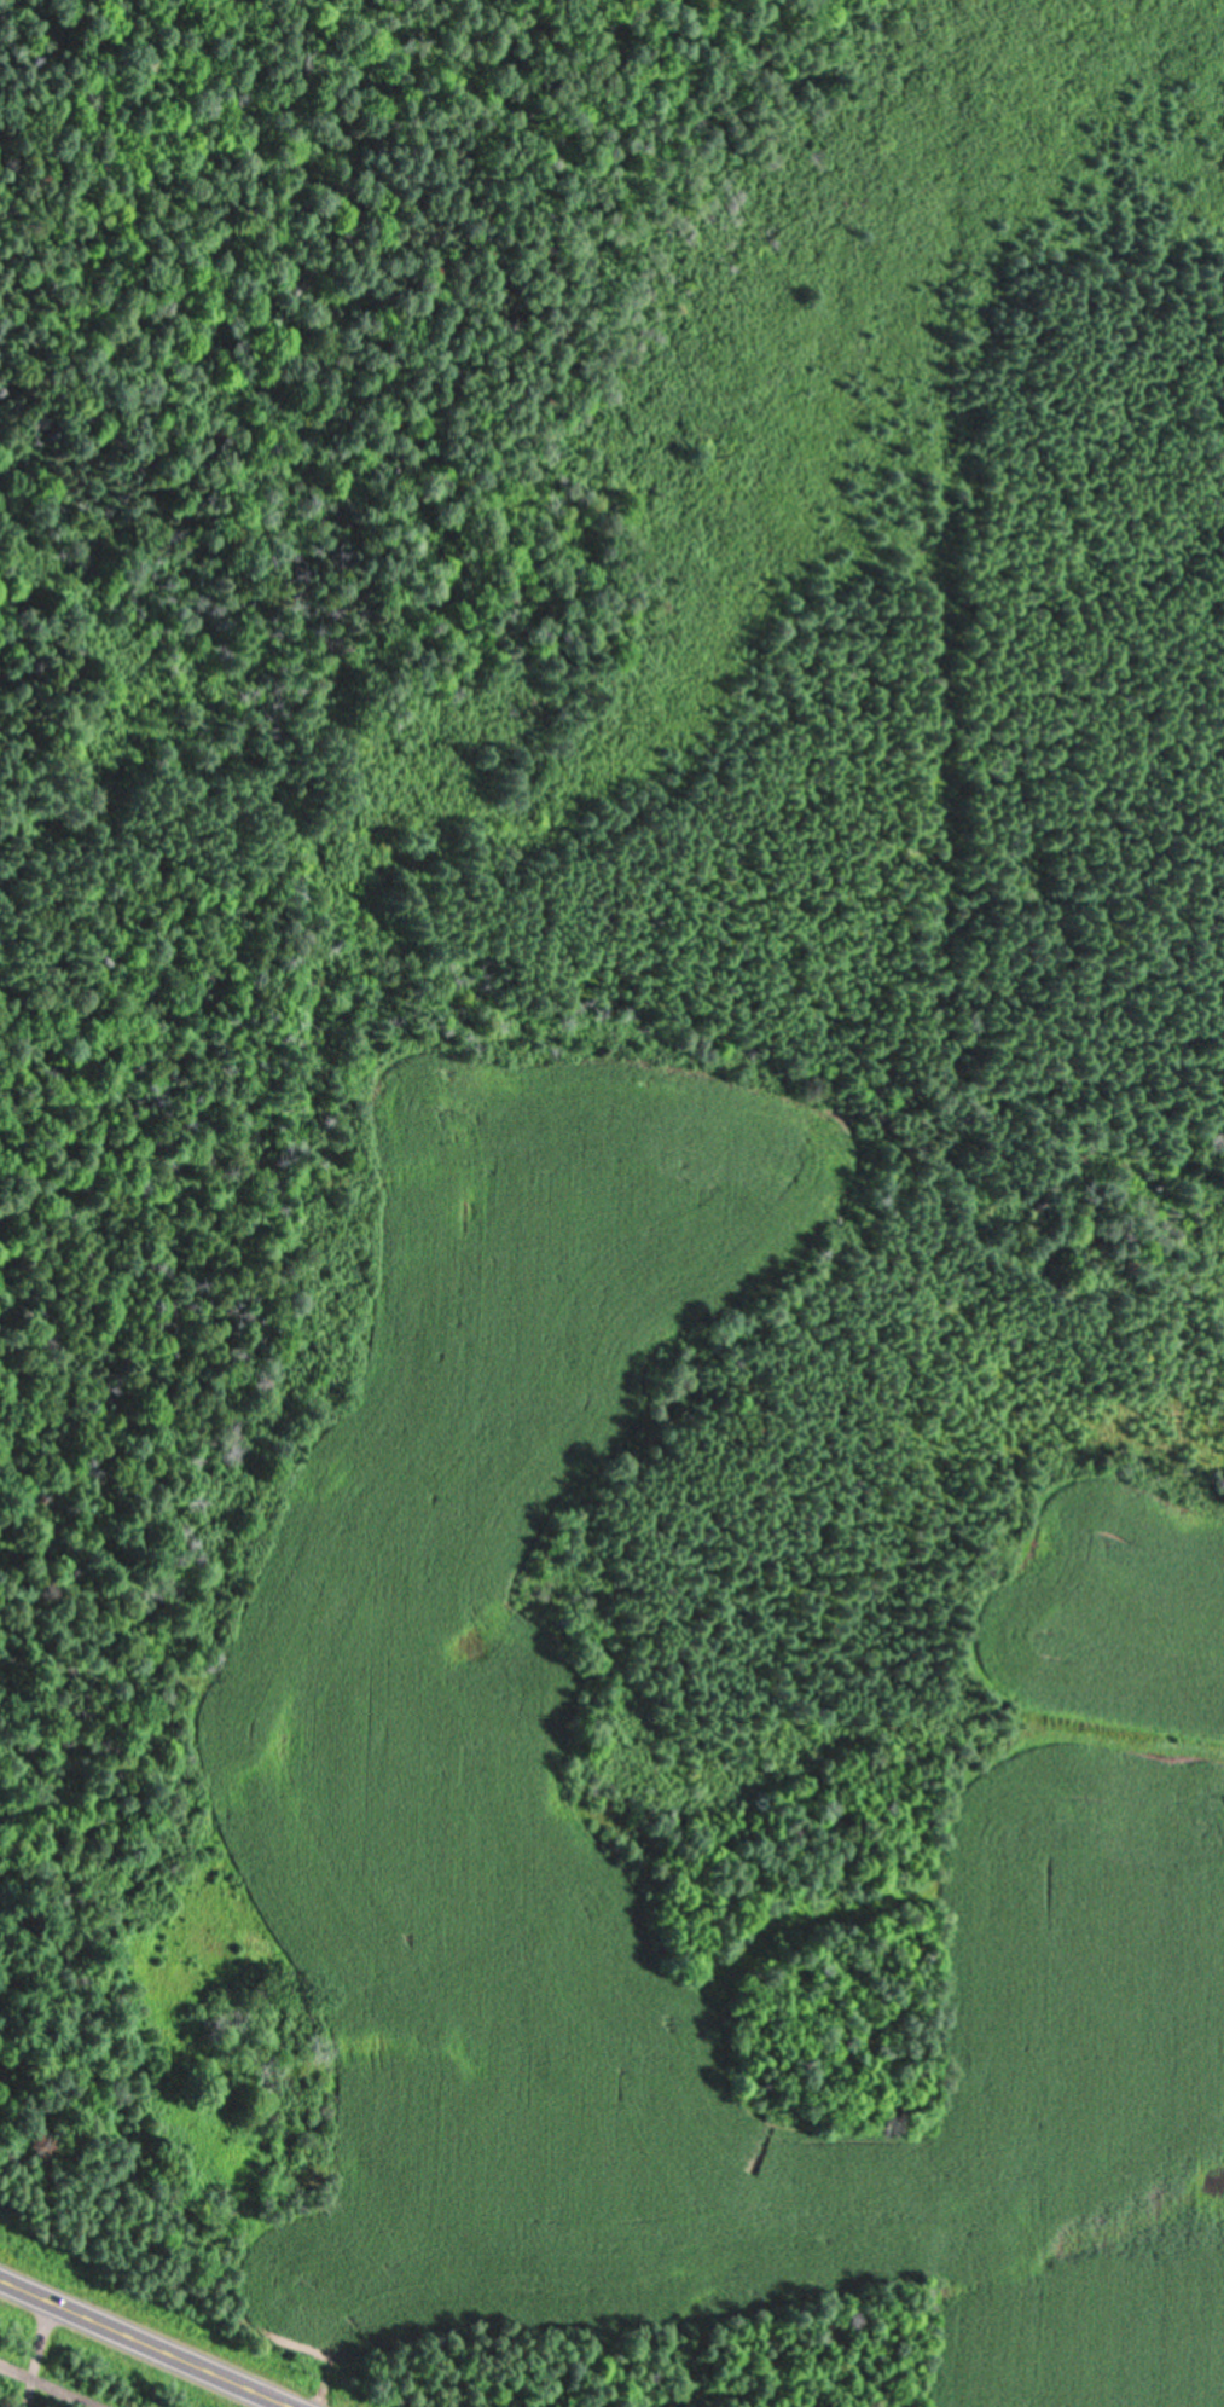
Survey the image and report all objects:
road: (149, 2342)
road: (57, 2382)

